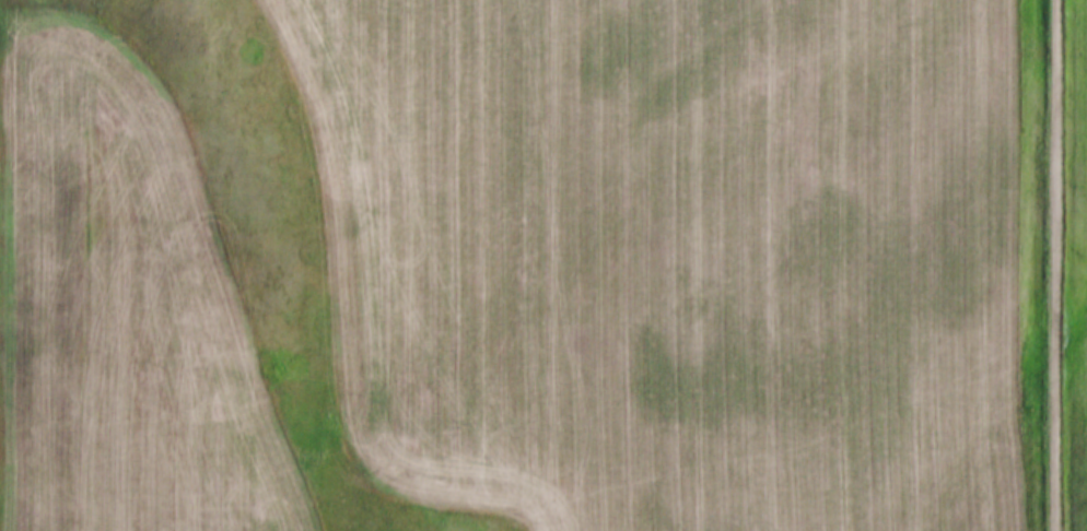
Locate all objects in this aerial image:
road: (1054, 264)

